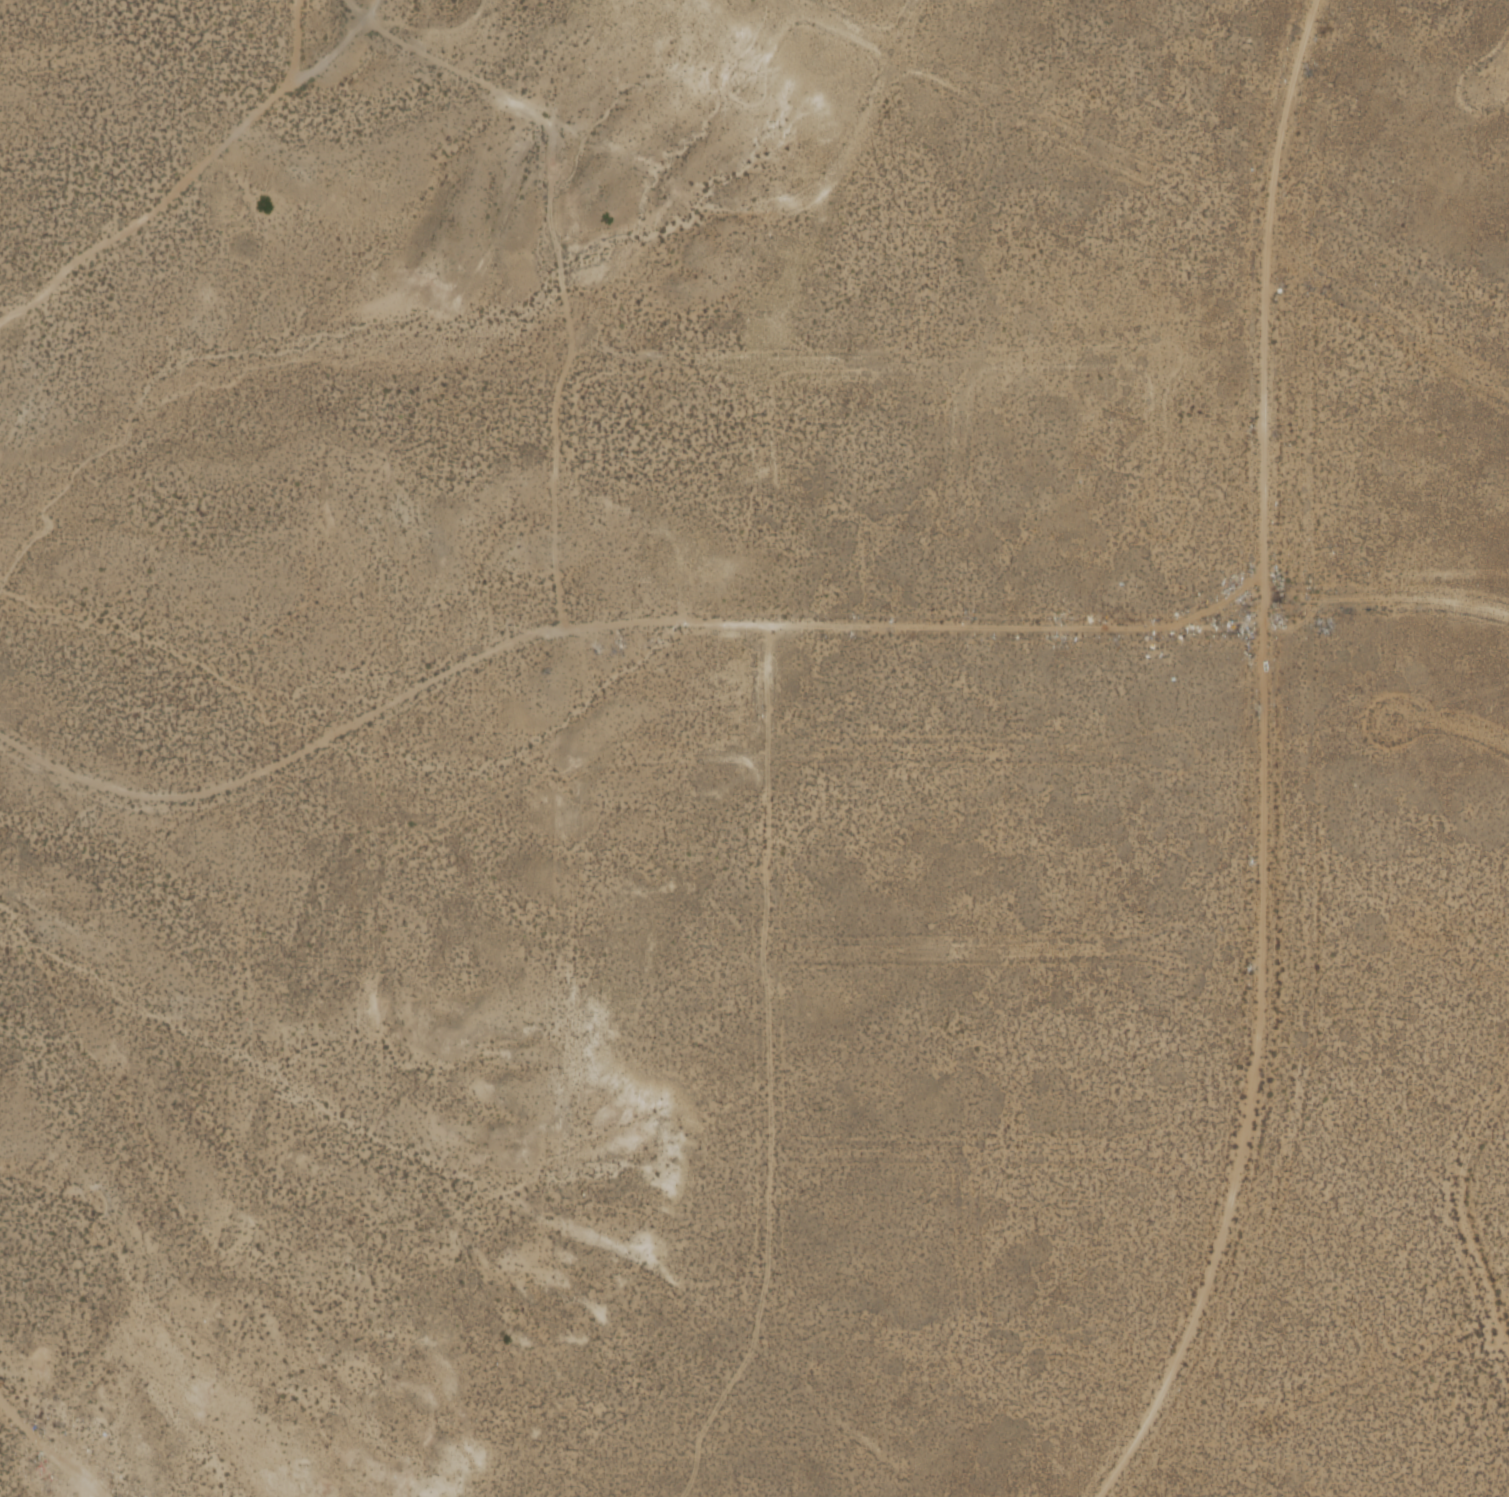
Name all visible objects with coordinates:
road: (1267, 764)

